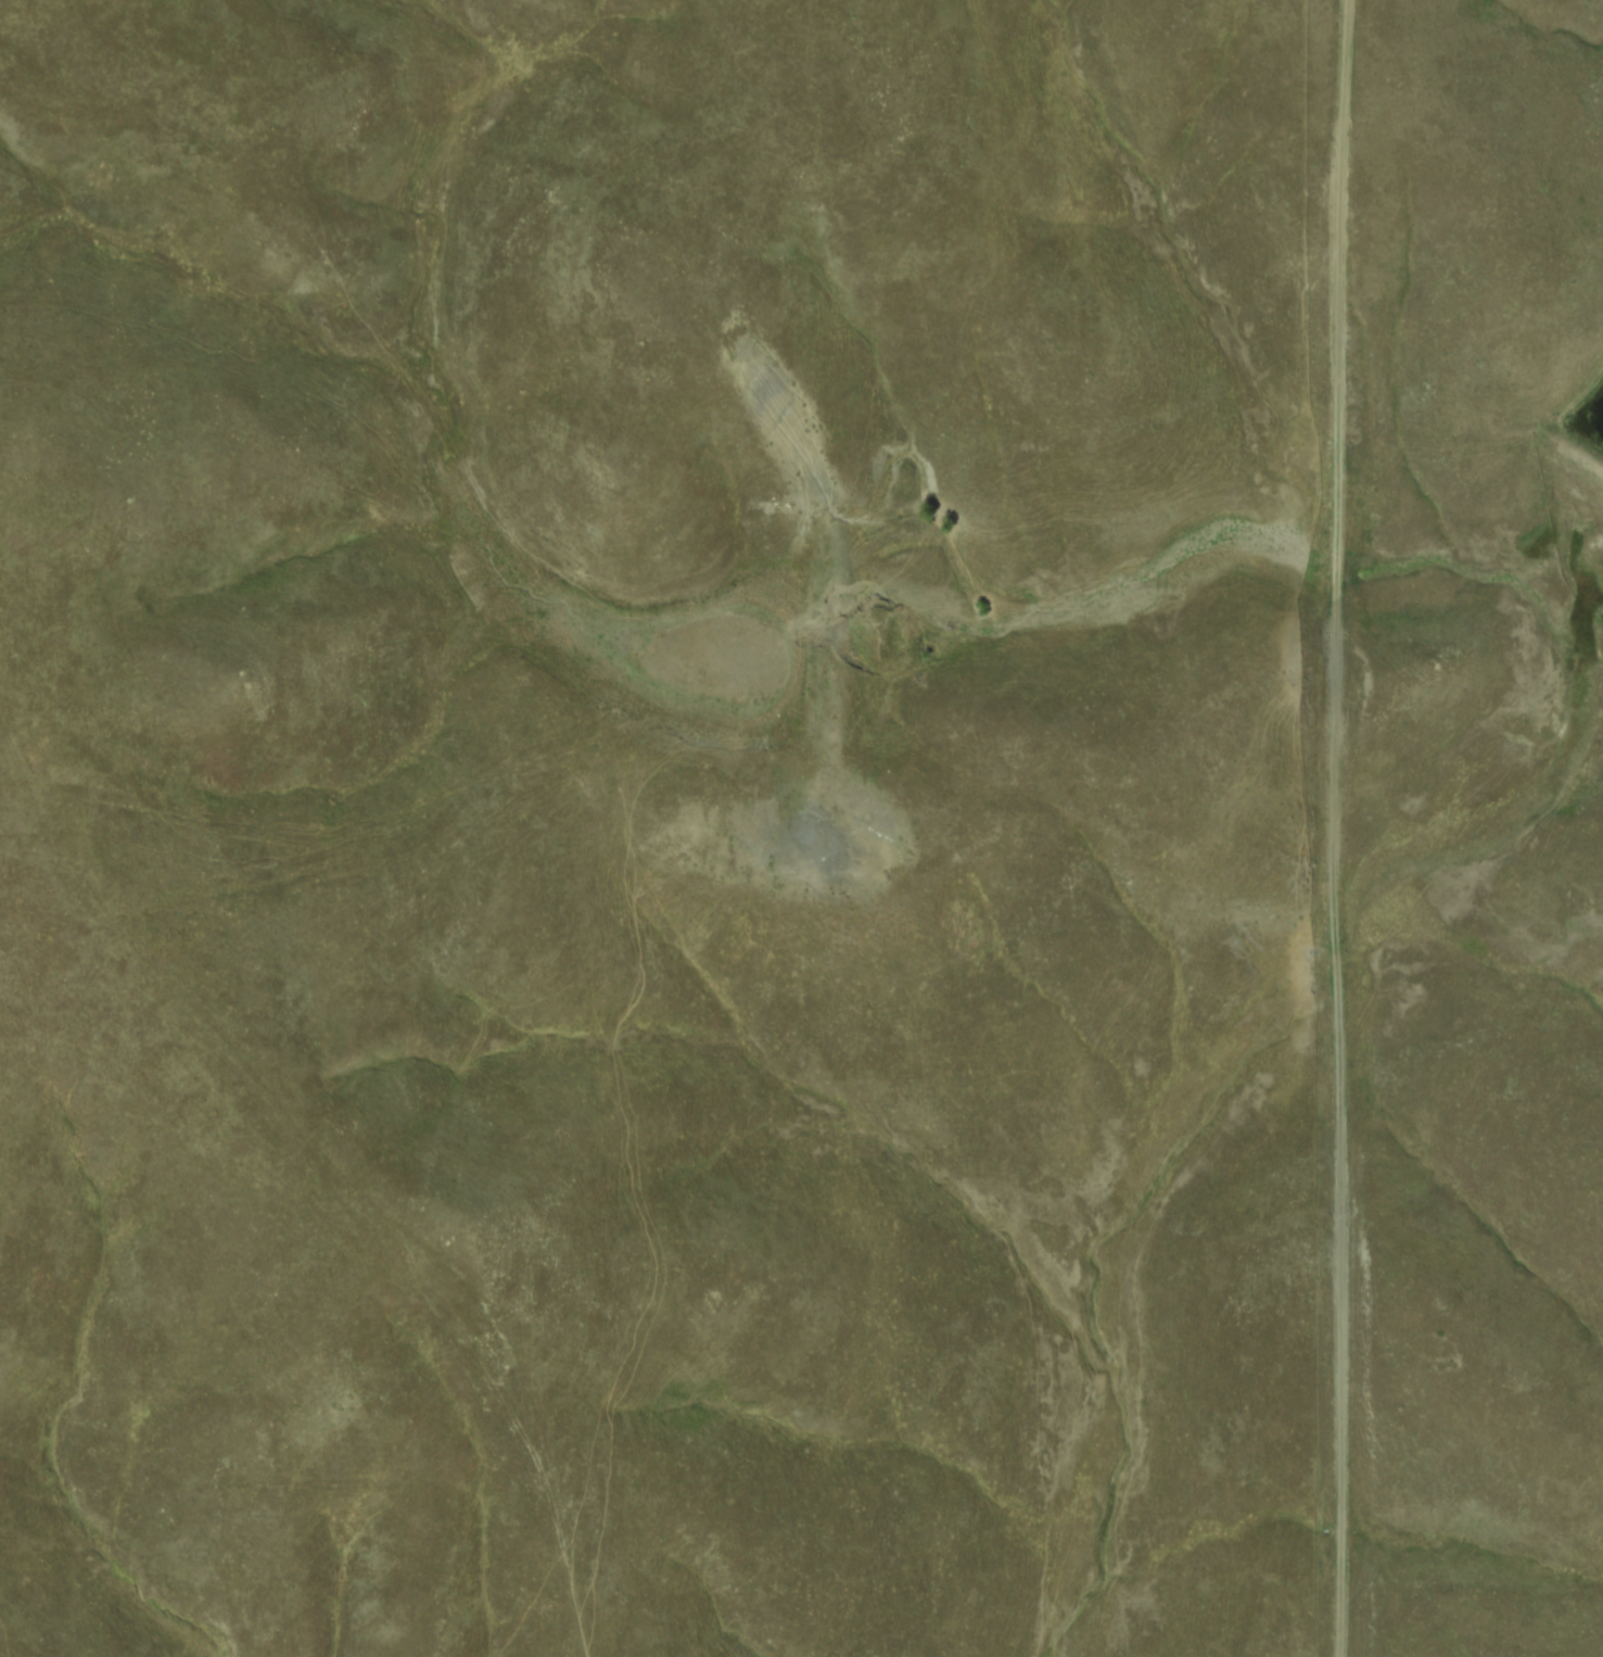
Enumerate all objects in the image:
road: (1330, 828)
road: (335, 1160)

